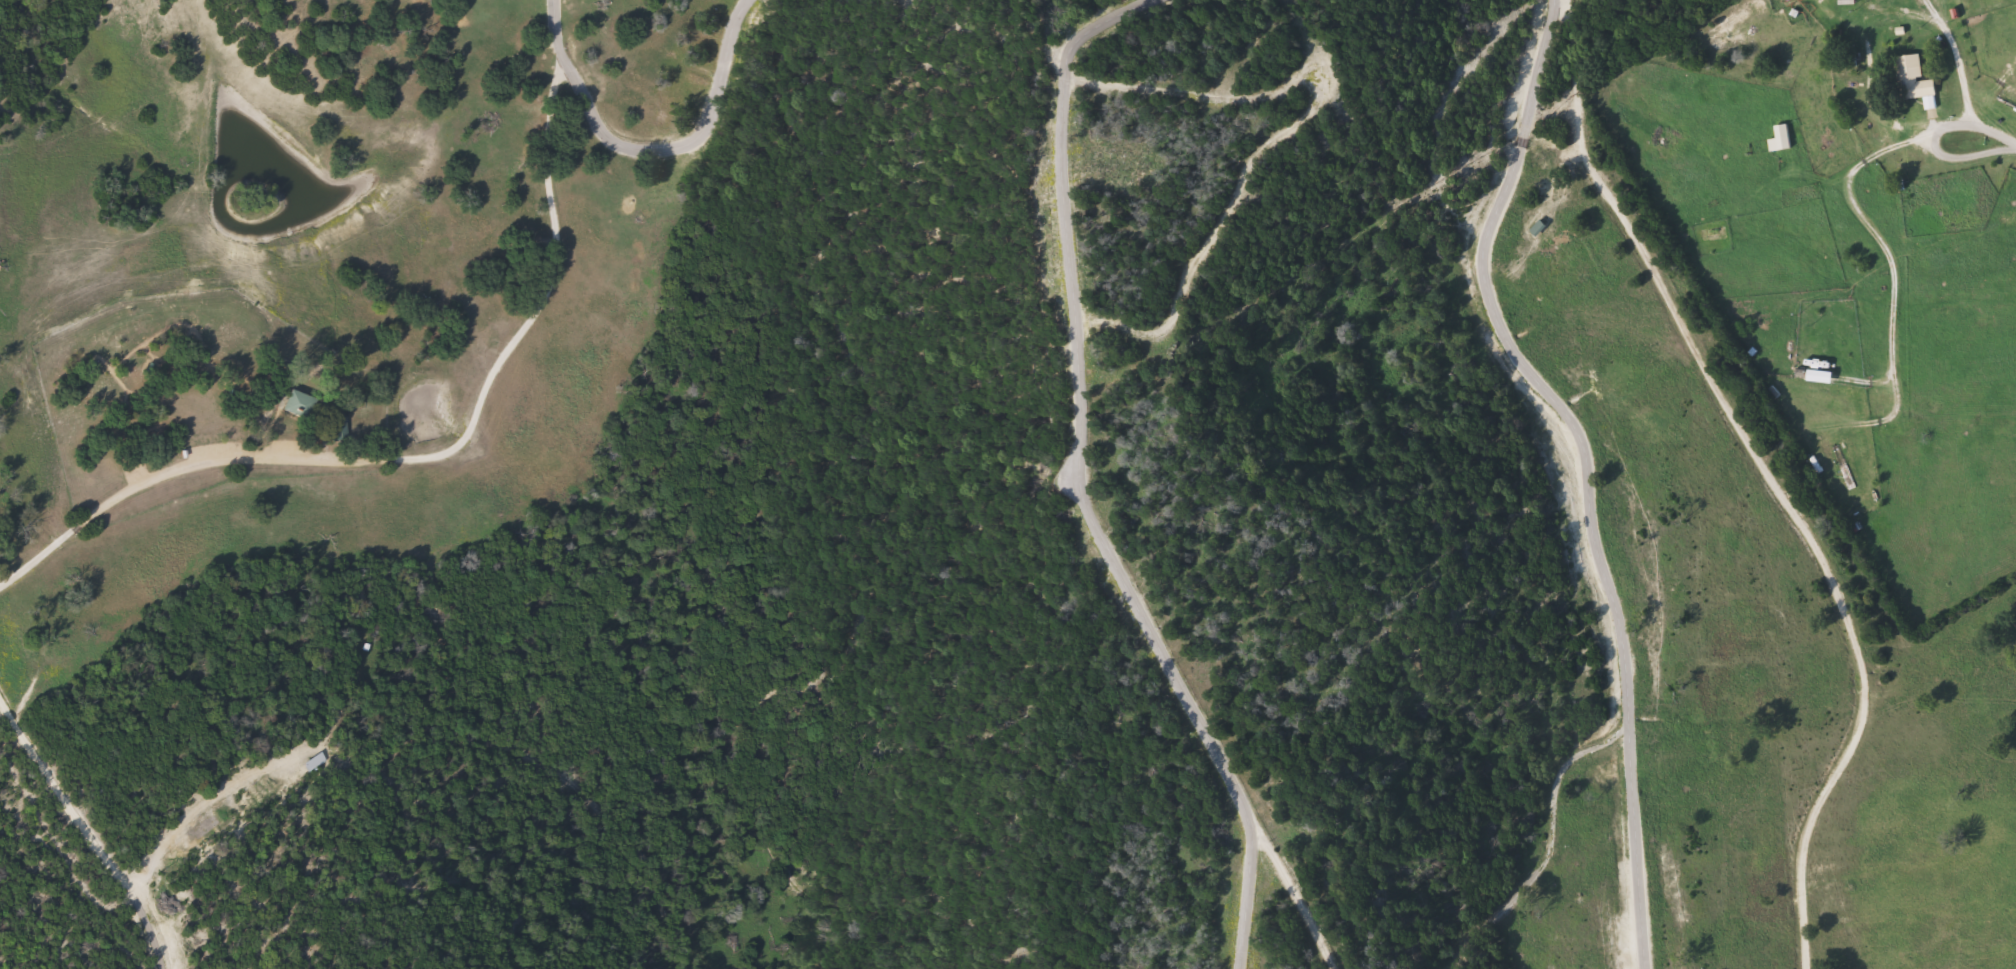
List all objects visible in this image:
road: (1536, 60)
road: (1574, 77)
building: (1916, 80)
building: (1784, 138)
road: (1993, 143)
road: (1509, 191)
road: (1878, 230)
road: (1627, 233)
road: (1115, 323)
building: (1820, 360)
building: (299, 404)
building: (129, 410)
building: (341, 428)
road: (446, 452)
road: (1584, 453)
building: (1845, 465)
road: (1856, 652)
building: (319, 763)
road: (217, 801)
road: (89, 831)
road: (1637, 842)
road: (1469, 944)

